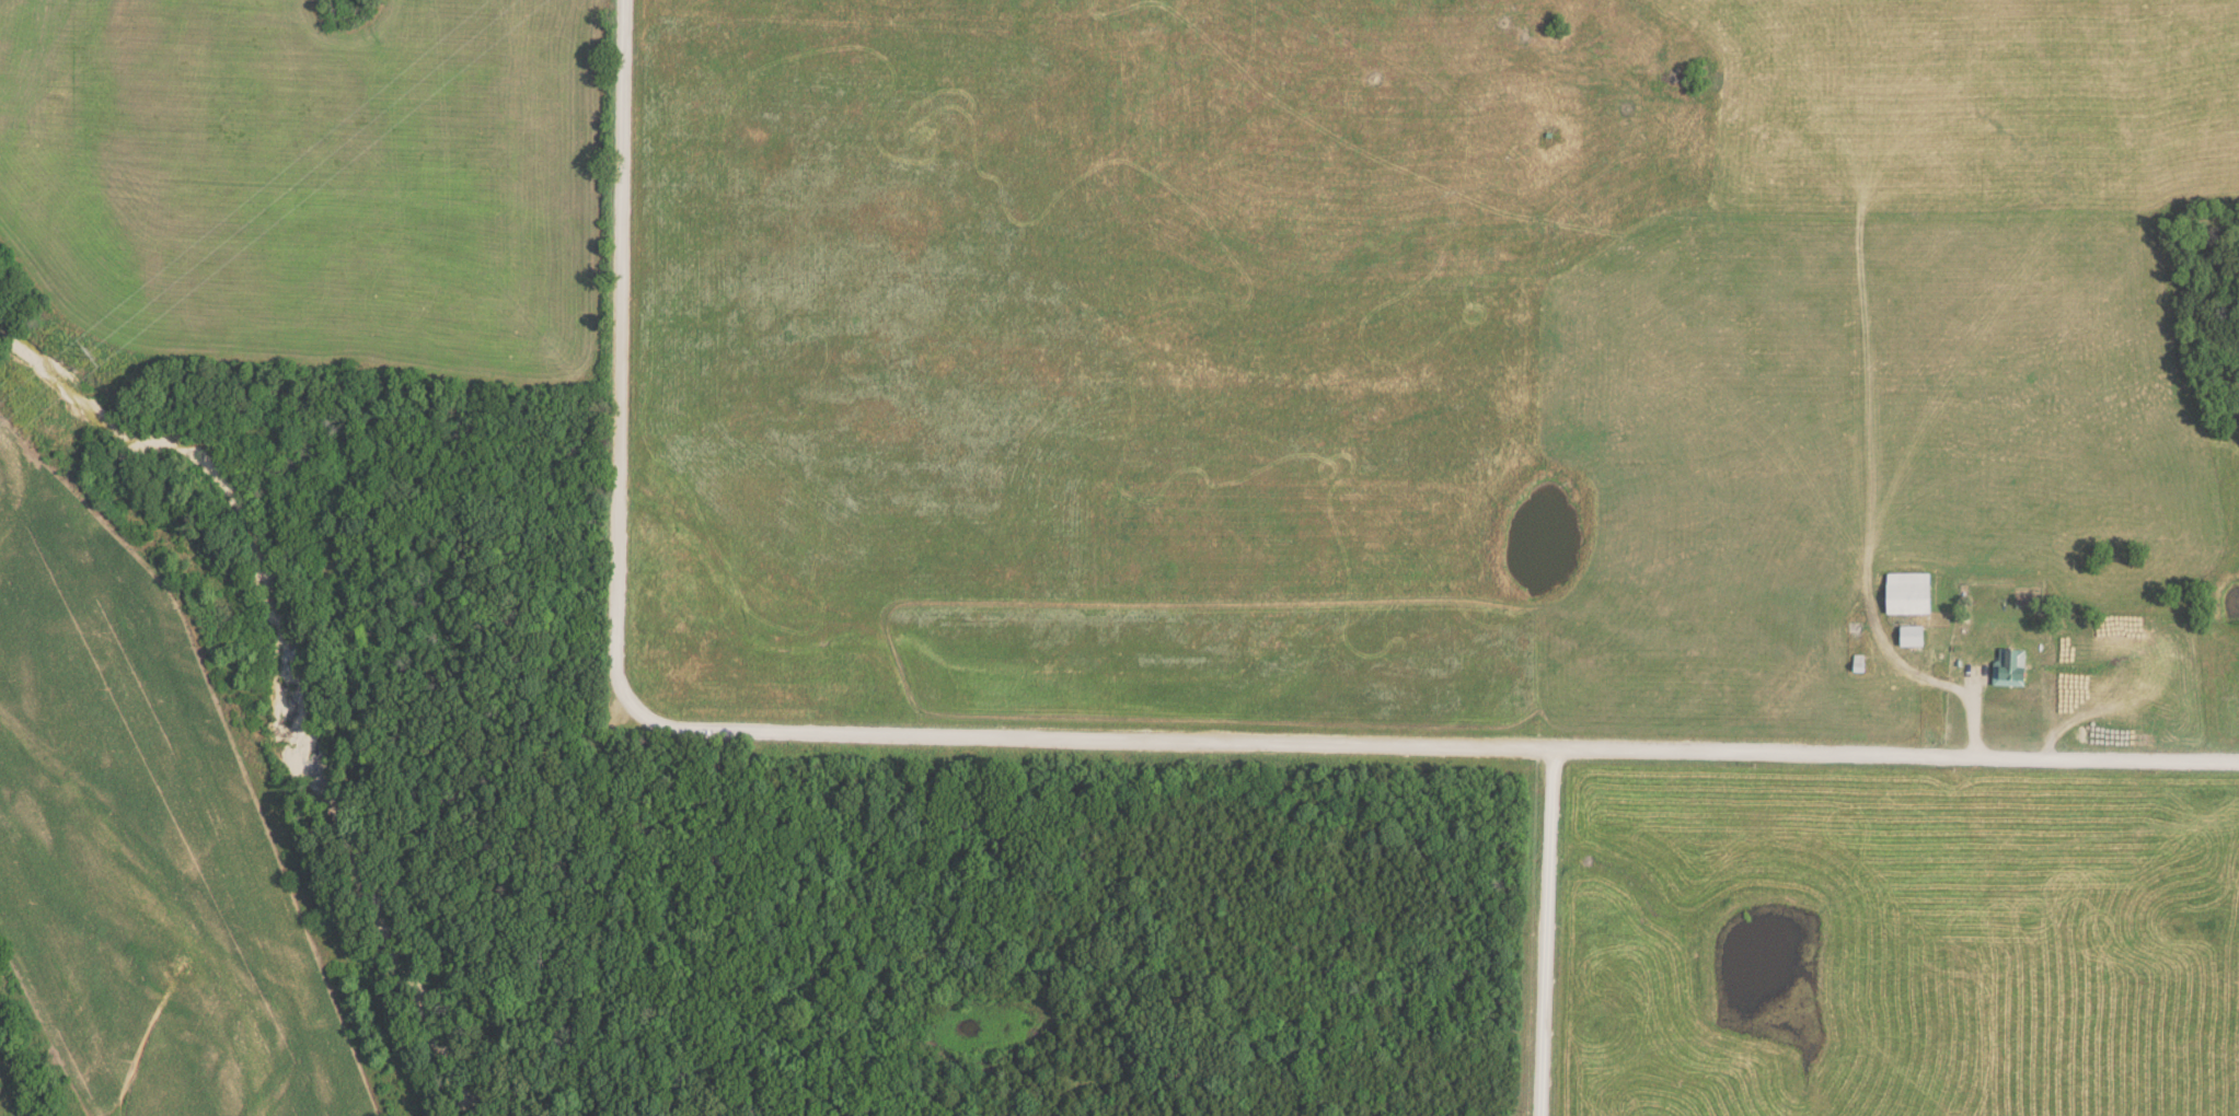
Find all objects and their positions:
power tower: (99, 352)
building: (1914, 594)
building: (1916, 637)
building: (2009, 662)
building: (1860, 664)
road: (1919, 665)
road: (1083, 735)
road: (1547, 930)

